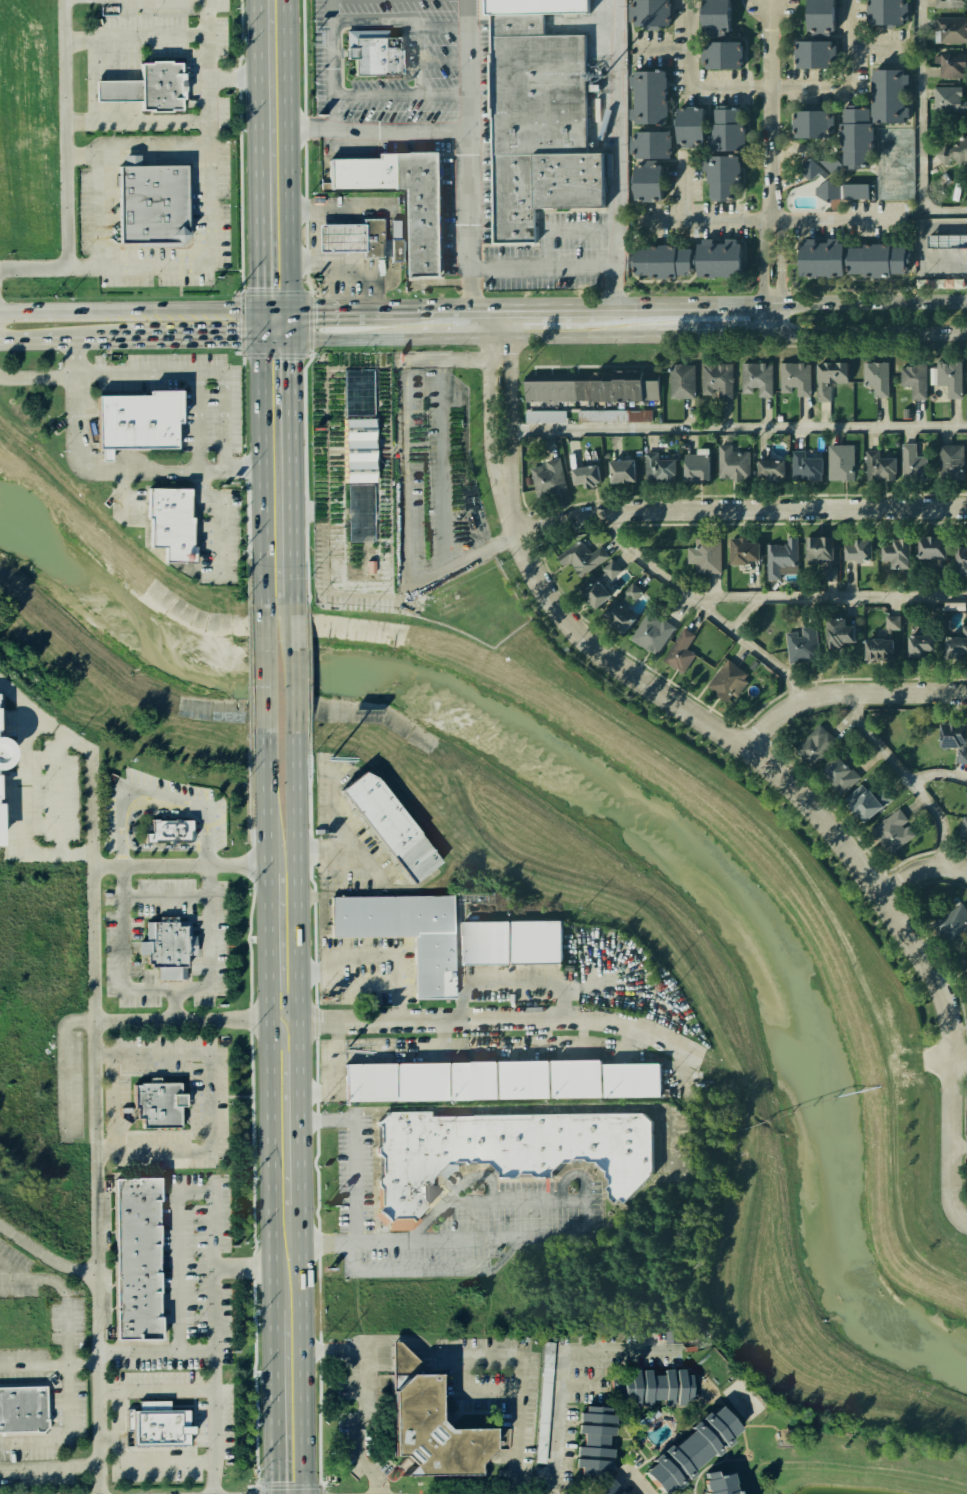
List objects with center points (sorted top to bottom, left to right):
building: (952, 4)
building: (884, 11)
building: (649, 13)
building: (713, 15)
building: (819, 15)
road: (205, 24)
building: (952, 29)
road: (851, 40)
road: (688, 43)
building: (812, 54)
building: (720, 57)
building: (379, 58)
road: (330, 63)
building: (951, 64)
road: (231, 80)
building: (159, 86)
road: (768, 86)
building: (114, 90)
road: (399, 94)
building: (887, 96)
building: (948, 98)
road: (771, 111)
building: (537, 117)
building: (809, 124)
building: (689, 125)
crop: (28, 128)
road: (377, 128)
road: (919, 129)
building: (726, 130)
road: (63, 134)
building: (648, 135)
building: (855, 138)
building: (953, 151)
road: (466, 152)
road: (616, 152)
road: (256, 156)
building: (807, 168)
building: (722, 179)
road: (207, 185)
road: (685, 188)
building: (855, 191)
building: (403, 201)
building: (154, 203)
road: (767, 222)
road: (944, 224)
building: (373, 237)
building: (339, 239)
gas station: (339, 239)
building: (947, 241)
road: (772, 243)
road: (921, 244)
building: (687, 258)
building: (819, 261)
building: (877, 261)
road: (944, 262)
road: (541, 266)
traffic signals: (258, 287)
road: (772, 300)
road: (870, 301)
road: (287, 302)
road: (709, 302)
road: (482, 304)
road: (532, 304)
road: (572, 304)
road: (612, 304)
road: (376, 305)
road: (273, 306)
traffic signals: (316, 306)
road: (169, 307)
road: (39, 308)
road: (498, 321)
road: (190, 337)
traffic signals: (237, 337)
road: (273, 338)
road: (450, 338)
road: (575, 338)
road: (712, 338)
road: (869, 338)
road: (345, 339)
road: (60, 340)
traffic signals: (289, 360)
road: (457, 366)
road: (158, 372)
building: (877, 377)
building: (950, 377)
building: (758, 378)
building: (796, 378)
building: (828, 378)
building: (915, 379)
building: (717, 380)
building: (682, 381)
building: (594, 385)
building: (358, 391)
road: (72, 405)
building: (545, 416)
building: (615, 416)
building: (135, 420)
road: (195, 421)
road: (733, 428)
road: (500, 438)
building: (550, 447)
building: (358, 450)
road: (260, 458)
building: (732, 462)
building: (840, 462)
building: (950, 462)
building: (913, 463)
building: (695, 465)
building: (878, 466)
road: (139, 468)
building: (658, 468)
building: (806, 468)
building: (770, 469)
road: (228, 470)
building: (621, 471)
building: (585, 475)
building: (548, 476)
road: (742, 507)
building: (360, 513)
road: (218, 519)
building: (168, 522)
road: (524, 542)
building: (932, 548)
building: (857, 550)
building: (741, 551)
building: (897, 553)
building: (707, 555)
building: (781, 556)
building: (821, 556)
building: (580, 560)
building: (960, 561)
road: (434, 569)
building: (599, 586)
road: (841, 599)
road: (722, 602)
building: (621, 607)
road: (701, 609)
building: (893, 622)
building: (653, 633)
building: (837, 633)
building: (803, 645)
building: (920, 645)
building: (955, 645)
building: (680, 650)
building: (877, 650)
road: (264, 668)
road: (294, 668)
building: (729, 680)
road: (847, 692)
building: (954, 740)
building: (816, 745)
road: (89, 763)
road: (779, 771)
building: (842, 776)
road: (908, 777)
road: (128, 784)
road: (944, 784)
building: (0, 785)
river: (641, 787)
building: (862, 804)
road: (23, 807)
road: (346, 820)
building: (385, 824)
building: (166, 829)
building: (962, 829)
building: (892, 832)
road: (205, 835)
road: (783, 848)
road: (328, 849)
road: (235, 863)
road: (162, 864)
road: (922, 871)
road: (163, 893)
building: (954, 927)
road: (93, 939)
building: (511, 942)
road: (391, 945)
building: (166, 948)
building: (965, 955)
building: (431, 965)
road: (359, 982)
road: (280, 984)
road: (165, 987)
road: (511, 987)
road: (498, 1018)
road: (221, 1019)
road: (445, 1036)
road: (540, 1036)
road: (580, 1036)
road: (284, 1053)
road: (456, 1054)
road: (962, 1057)
road: (65, 1061)
road: (721, 1061)
building: (497, 1079)
building: (154, 1104)
road: (590, 1111)
road: (269, 1113)
road: (299, 1113)
building: (965, 1114)
road: (956, 1138)
road: (961, 1147)
building: (505, 1152)
road: (137, 1155)
road: (351, 1169)
road: (572, 1178)
road: (452, 1193)
road: (514, 1200)
road: (583, 1219)
road: (442, 1242)
road: (174, 1246)
road: (45, 1253)
building: (131, 1257)
road: (65, 1292)
road: (98, 1325)
building: (674, 1337)
road: (136, 1350)
parking lot: (39, 1356)
road: (502, 1357)
road: (49, 1362)
road: (562, 1367)
building: (649, 1386)
road: (158, 1388)
building: (545, 1390)
road: (472, 1395)
road: (357, 1398)
building: (21, 1408)
road: (215, 1422)
building: (154, 1423)
building: (424, 1429)
road: (66, 1432)
building: (590, 1439)
building: (687, 1448)
road: (145, 1461)
road: (50, 1466)
road: (850, 1466)
road: (642, 1483)
building: (713, 1484)
building: (602, 1488)

